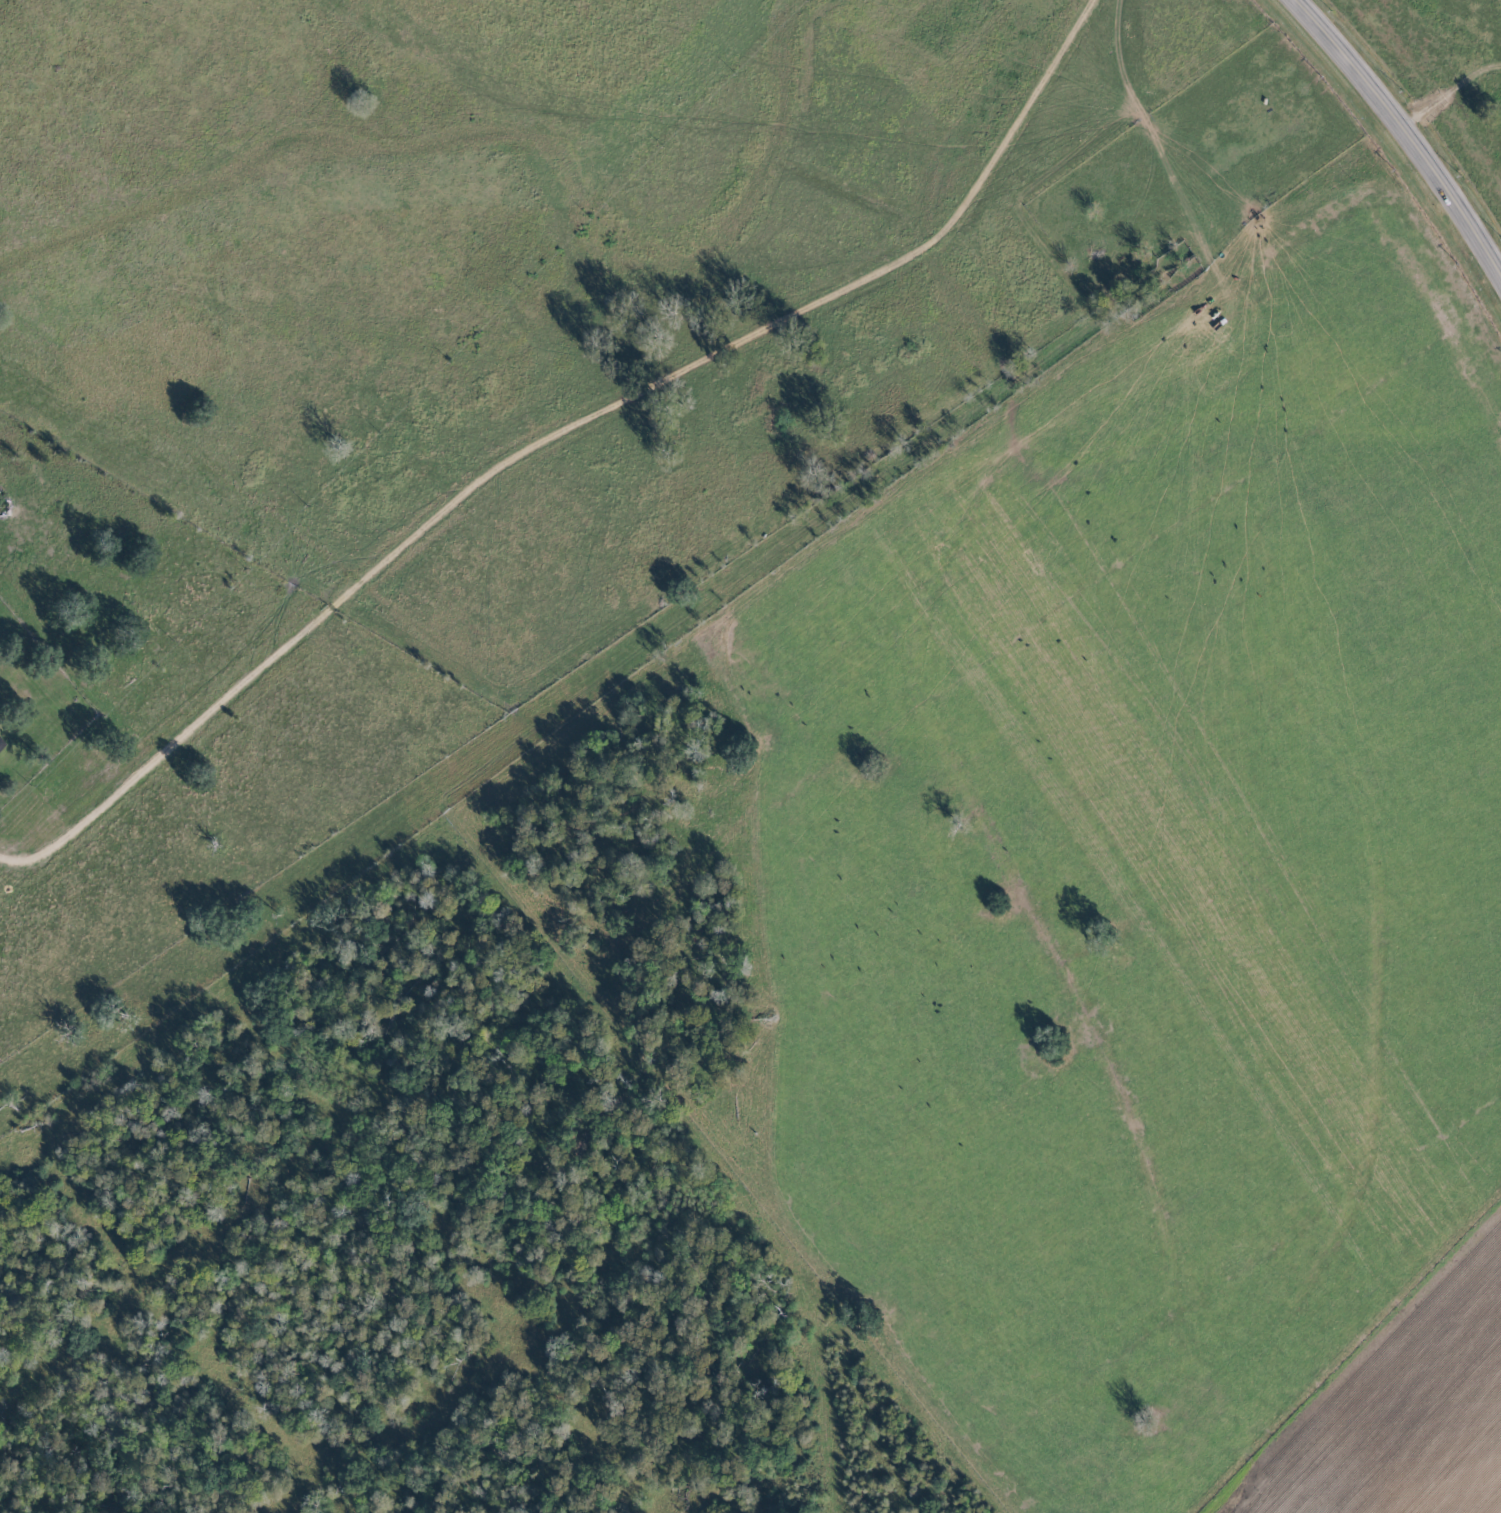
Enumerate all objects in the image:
railway: (1430, 86)
road: (1406, 132)
road: (563, 429)
building: (0, 743)

